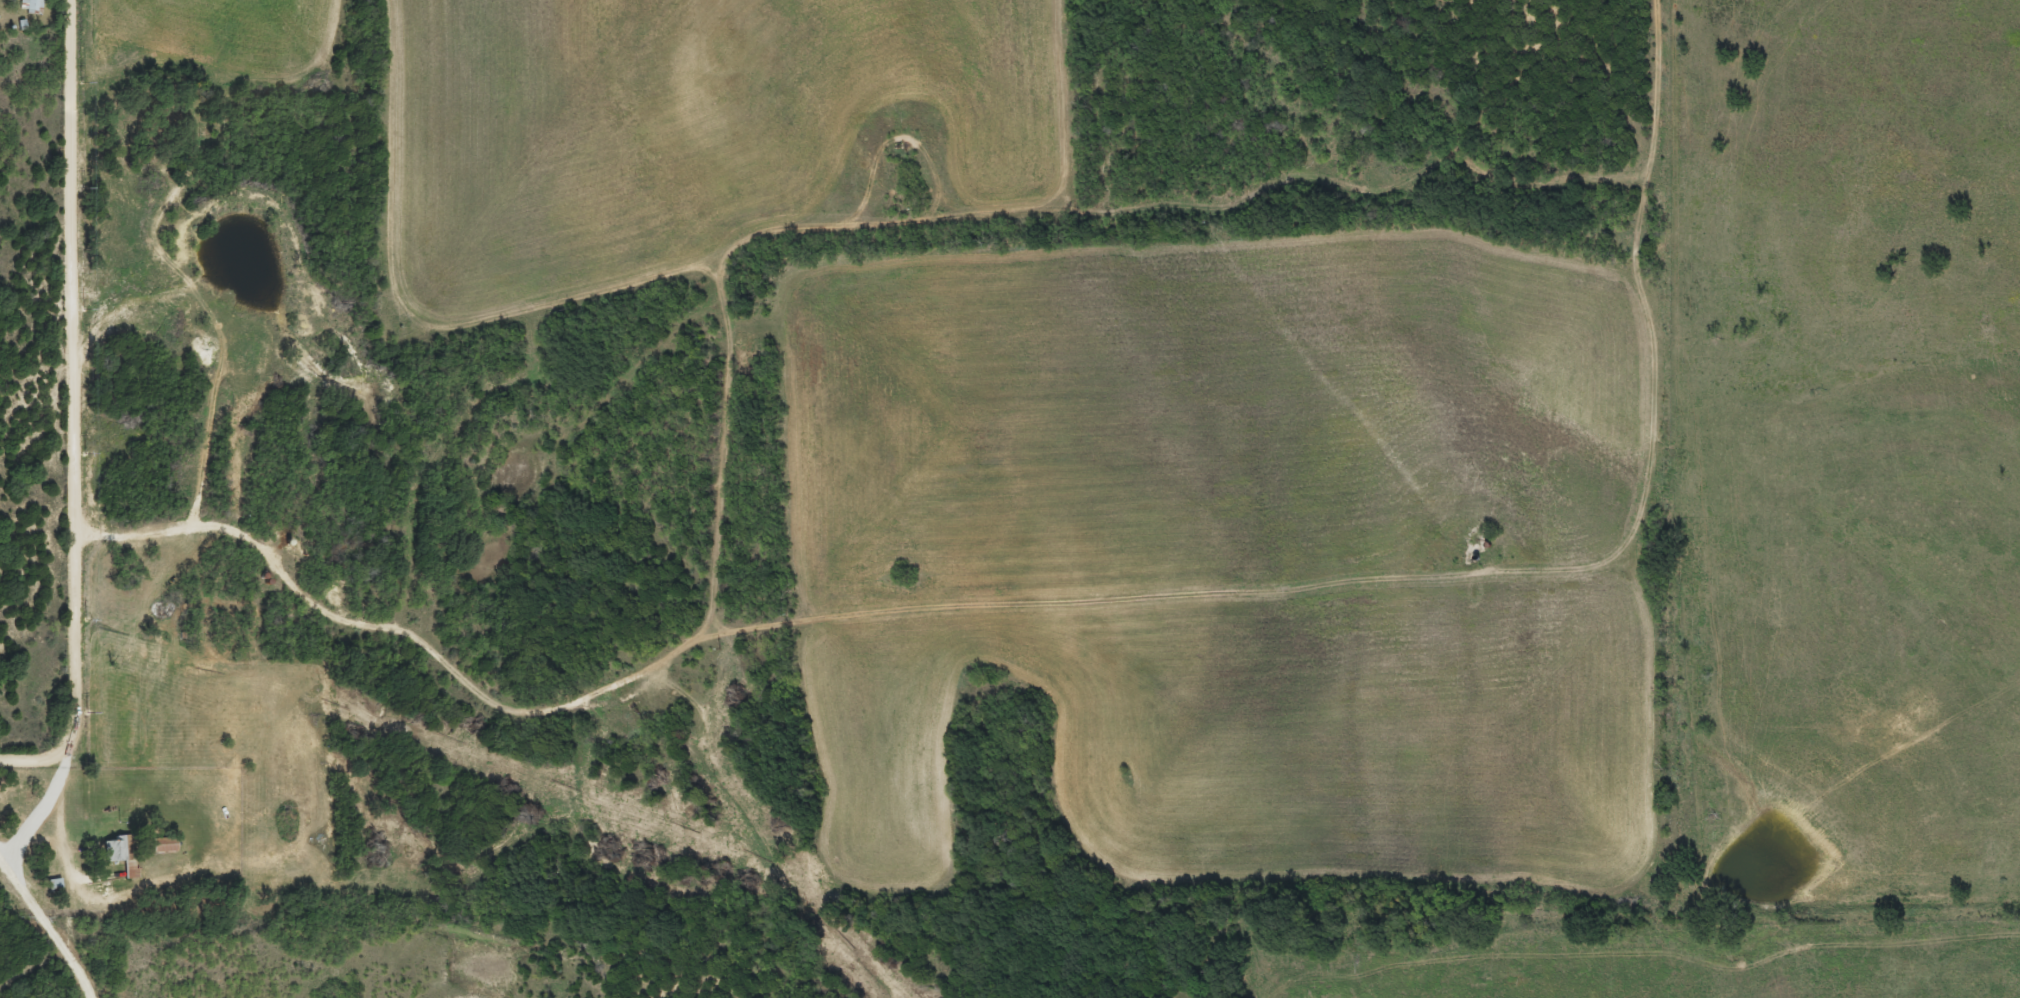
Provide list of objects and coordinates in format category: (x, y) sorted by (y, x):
building: (33, 9)
road: (75, 364)
road: (46, 760)
building: (168, 851)
building: (124, 860)
building: (57, 892)

